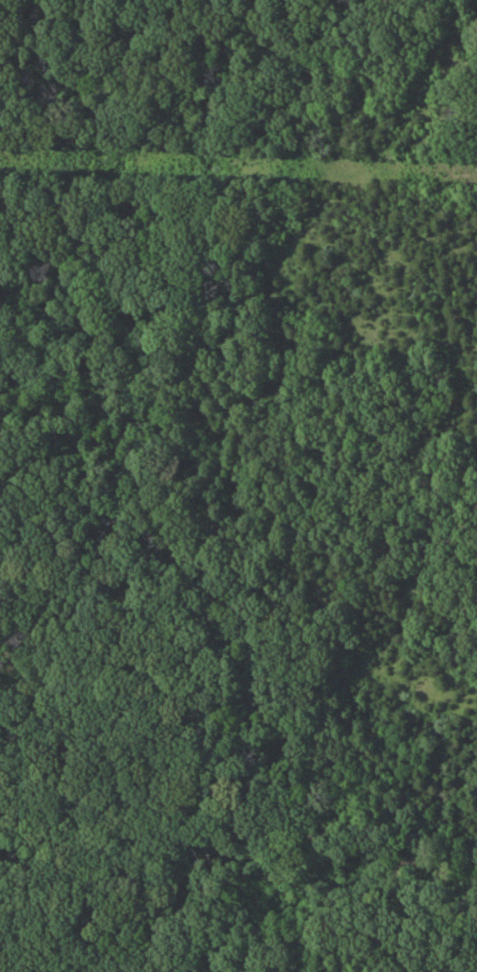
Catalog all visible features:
road: (159, 146)

